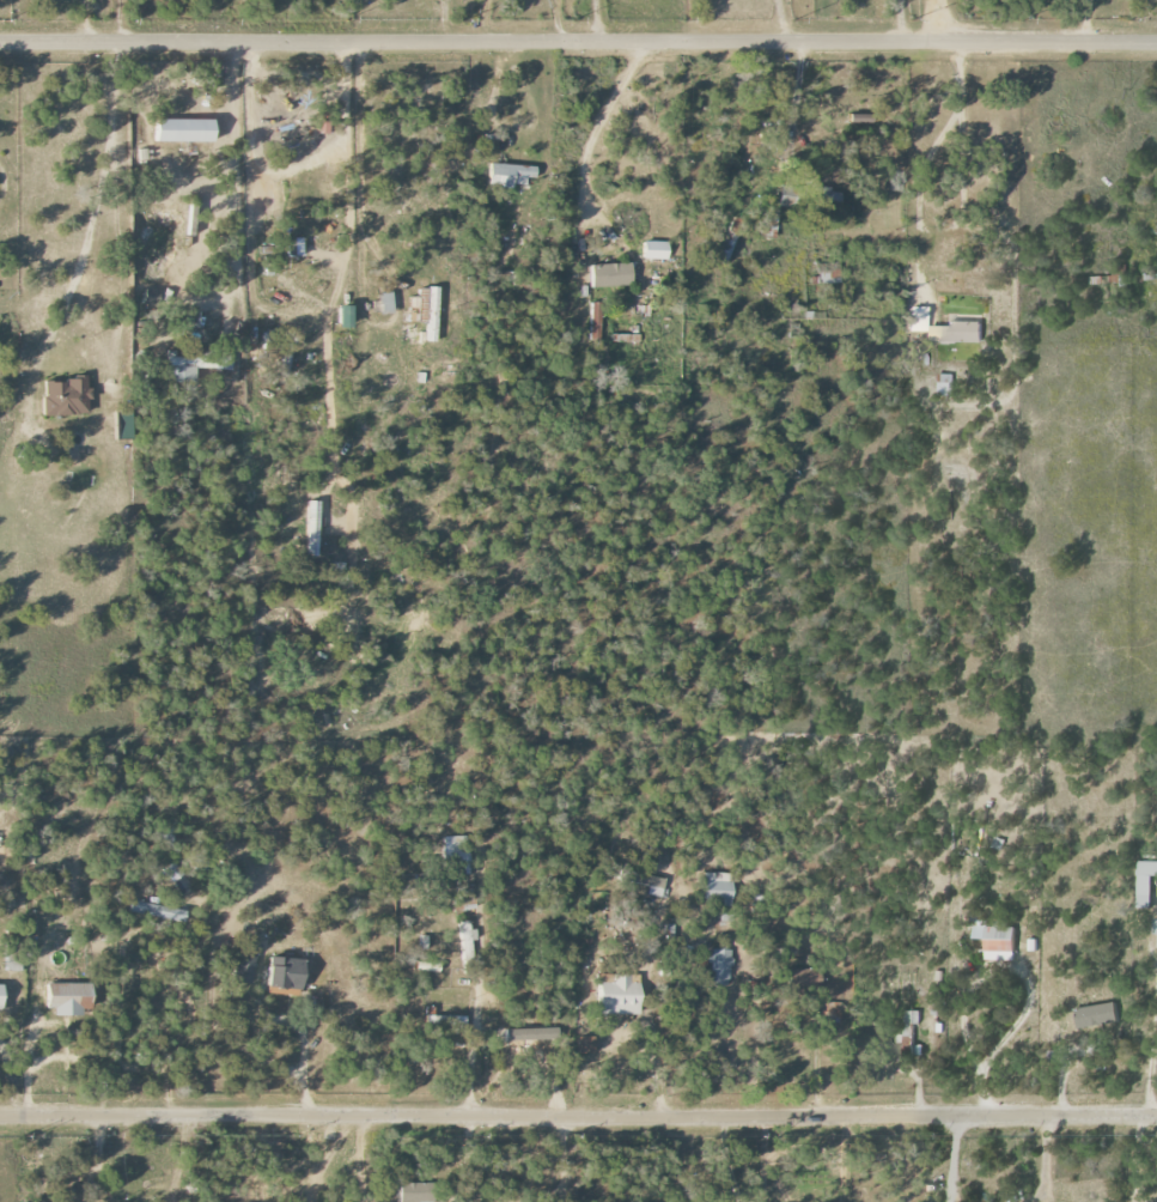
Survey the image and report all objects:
road: (115, 20)
road: (444, 20)
road: (482, 20)
road: (555, 20)
road: (587, 20)
road: (895, 20)
road: (940, 20)
road: (78, 22)
road: (578, 42)
road: (793, 104)
road: (598, 116)
building: (185, 132)
road: (921, 160)
road: (230, 163)
building: (510, 175)
road: (1, 184)
road: (93, 192)
building: (810, 199)
building: (654, 250)
road: (340, 253)
building: (827, 273)
building: (610, 275)
building: (151, 297)
building: (382, 304)
building: (424, 311)
building: (346, 317)
building: (593, 321)
building: (945, 329)
building: (193, 364)
building: (944, 384)
building: (66, 397)
building: (312, 529)
building: (200, 862)
building: (176, 878)
building: (640, 880)
building: (1144, 882)
building: (715, 887)
building: (157, 912)
building: (1156, 927)
building: (995, 939)
building: (422, 941)
building: (465, 943)
road: (120, 945)
building: (1033, 945)
building: (719, 964)
building: (243, 966)
building: (427, 966)
building: (286, 972)
road: (986, 973)
building: (794, 977)
building: (619, 994)
building: (1, 997)
building: (683, 997)
building: (69, 998)
building: (832, 1010)
building: (1097, 1015)
building: (914, 1016)
building: (445, 1020)
building: (586, 1045)
road: (1150, 1045)
road: (476, 1051)
road: (816, 1058)
road: (578, 1113)
road: (564, 1127)
road: (510, 1149)
road: (1042, 1155)
road: (319, 1157)
road: (759, 1157)
road: (952, 1157)
road: (1132, 1157)
road: (564, 1171)
building: (415, 1191)
road: (1144, 1195)

